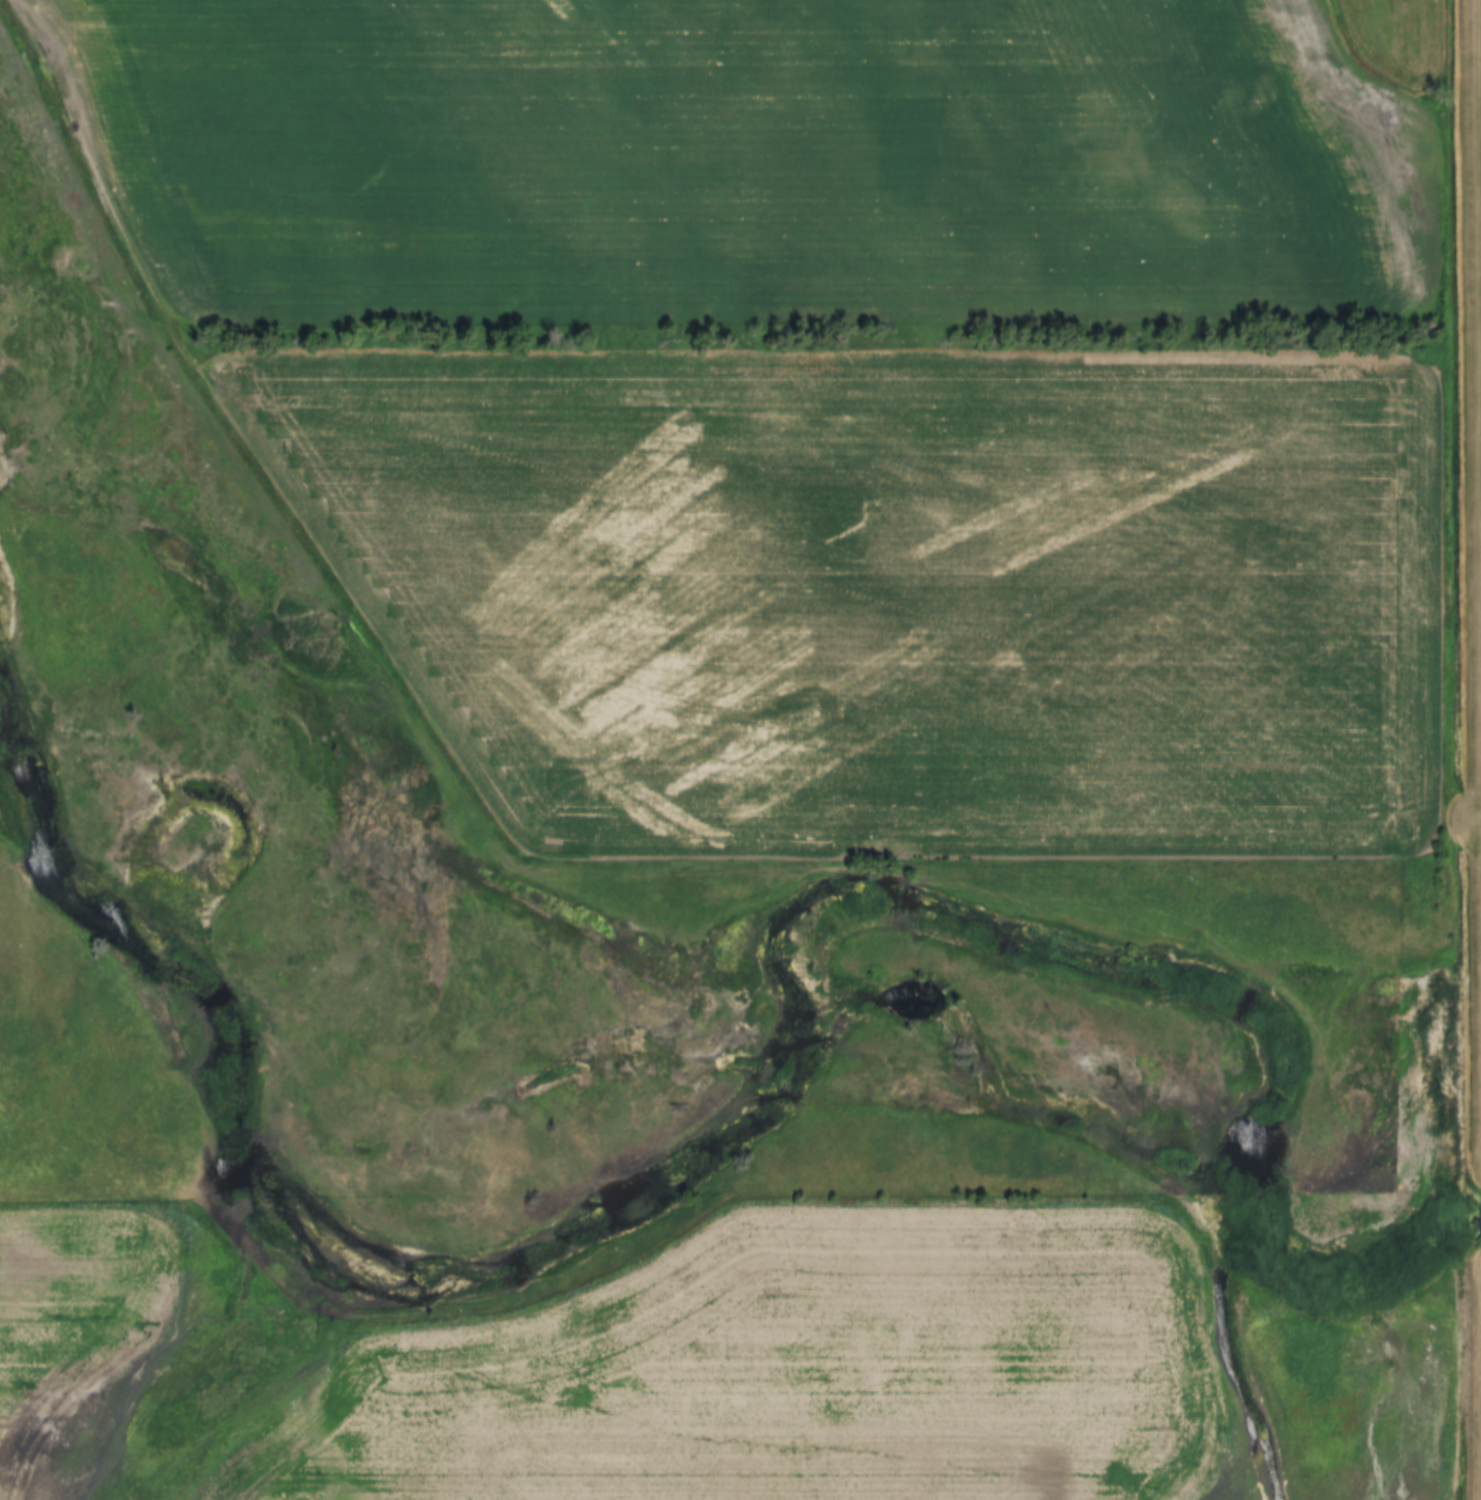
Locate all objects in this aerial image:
road: (91, 152)

